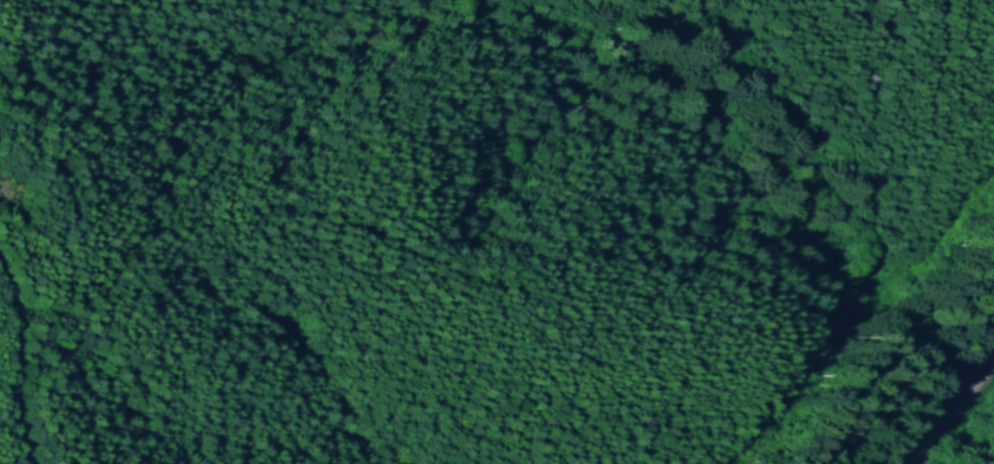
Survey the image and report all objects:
road: (948, 405)

